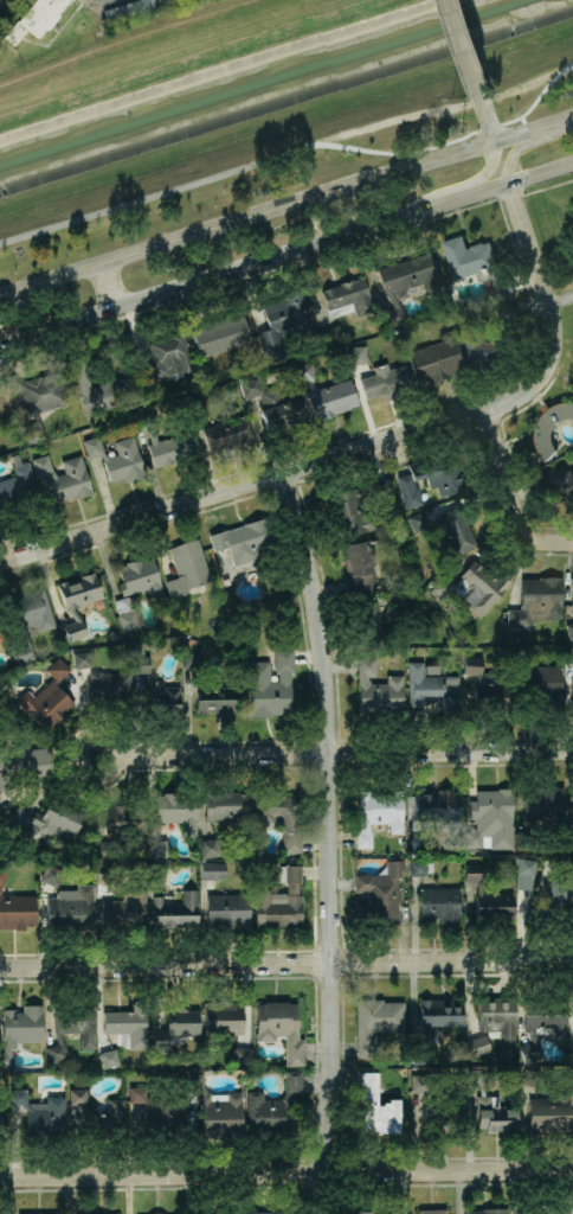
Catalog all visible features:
park: (4, 4)
building: (41, 14)
road: (463, 45)
park: (524, 53)
river: (279, 87)
road: (484, 115)
park: (224, 119)
road: (522, 123)
road: (451, 139)
road: (526, 143)
road: (451, 186)
road: (154, 196)
road: (285, 205)
road: (286, 253)
building: (478, 262)
road: (534, 268)
building: (406, 281)
road: (107, 286)
building: (348, 295)
road: (560, 300)
building: (285, 331)
building: (335, 333)
building: (223, 334)
building: (498, 339)
building: (358, 353)
building: (168, 358)
building: (439, 358)
building: (387, 381)
building: (102, 388)
building: (327, 392)
building: (41, 401)
building: (200, 404)
building: (275, 405)
building: (551, 424)
building: (228, 435)
building: (167, 442)
building: (117, 458)
road: (286, 473)
building: (65, 475)
building: (562, 479)
building: (430, 485)
building: (15, 488)
road: (511, 499)
building: (358, 507)
building: (451, 530)
building: (246, 541)
building: (360, 567)
building: (187, 568)
building: (141, 577)
building: (476, 584)
building: (572, 595)
building: (79, 600)
building: (536, 600)
building: (129, 618)
building: (30, 621)
building: (368, 625)
building: (569, 627)
building: (112, 634)
building: (0, 638)
building: (569, 656)
building: (82, 658)
building: (431, 667)
building: (271, 684)
building: (482, 684)
building: (545, 684)
building: (109, 686)
building: (431, 688)
building: (378, 689)
building: (210, 690)
building: (155, 692)
building: (572, 692)
building: (49, 699)
road: (346, 753)
road: (118, 756)
building: (21, 765)
building: (439, 809)
building: (176, 810)
building: (540, 812)
building: (223, 813)
building: (376, 813)
building: (281, 816)
building: (49, 819)
building: (490, 819)
building: (122, 828)
building: (571, 841)
road: (331, 842)
building: (419, 843)
building: (159, 848)
building: (417, 865)
building: (569, 865)
building: (156, 870)
building: (212, 870)
building: (104, 871)
building: (51, 874)
building: (2, 876)
building: (558, 892)
building: (378, 894)
building: (489, 897)
building: (292, 899)
building: (439, 903)
building: (73, 907)
building: (227, 909)
building: (17, 910)
building: (175, 910)
building: (124, 912)
road: (462, 961)
road: (324, 964)
road: (153, 965)
road: (4, 967)
building: (439, 1014)
building: (223, 1017)
building: (497, 1017)
building: (542, 1020)
building: (375, 1021)
building: (129, 1022)
building: (279, 1027)
building: (175, 1028)
building: (19, 1029)
building: (71, 1029)
building: (478, 1044)
building: (572, 1047)
building: (423, 1053)
building: (242, 1054)
building: (109, 1058)
building: (532, 1078)
building: (273, 1104)
building: (157, 1105)
building: (438, 1105)
building: (376, 1106)
building: (492, 1106)
building: (217, 1107)
building: (39, 1111)
building: (98, 1112)
building: (548, 1113)
building: (1, 1125)
road: (286, 1174)
building: (432, 1210)
building: (488, 1210)
building: (224, 1212)
building: (262, 1212)
building: (368, 1212)
building: (555, 1212)
building: (38, 1213)
building: (97, 1213)
building: (108, 1213)
building: (157, 1213)

